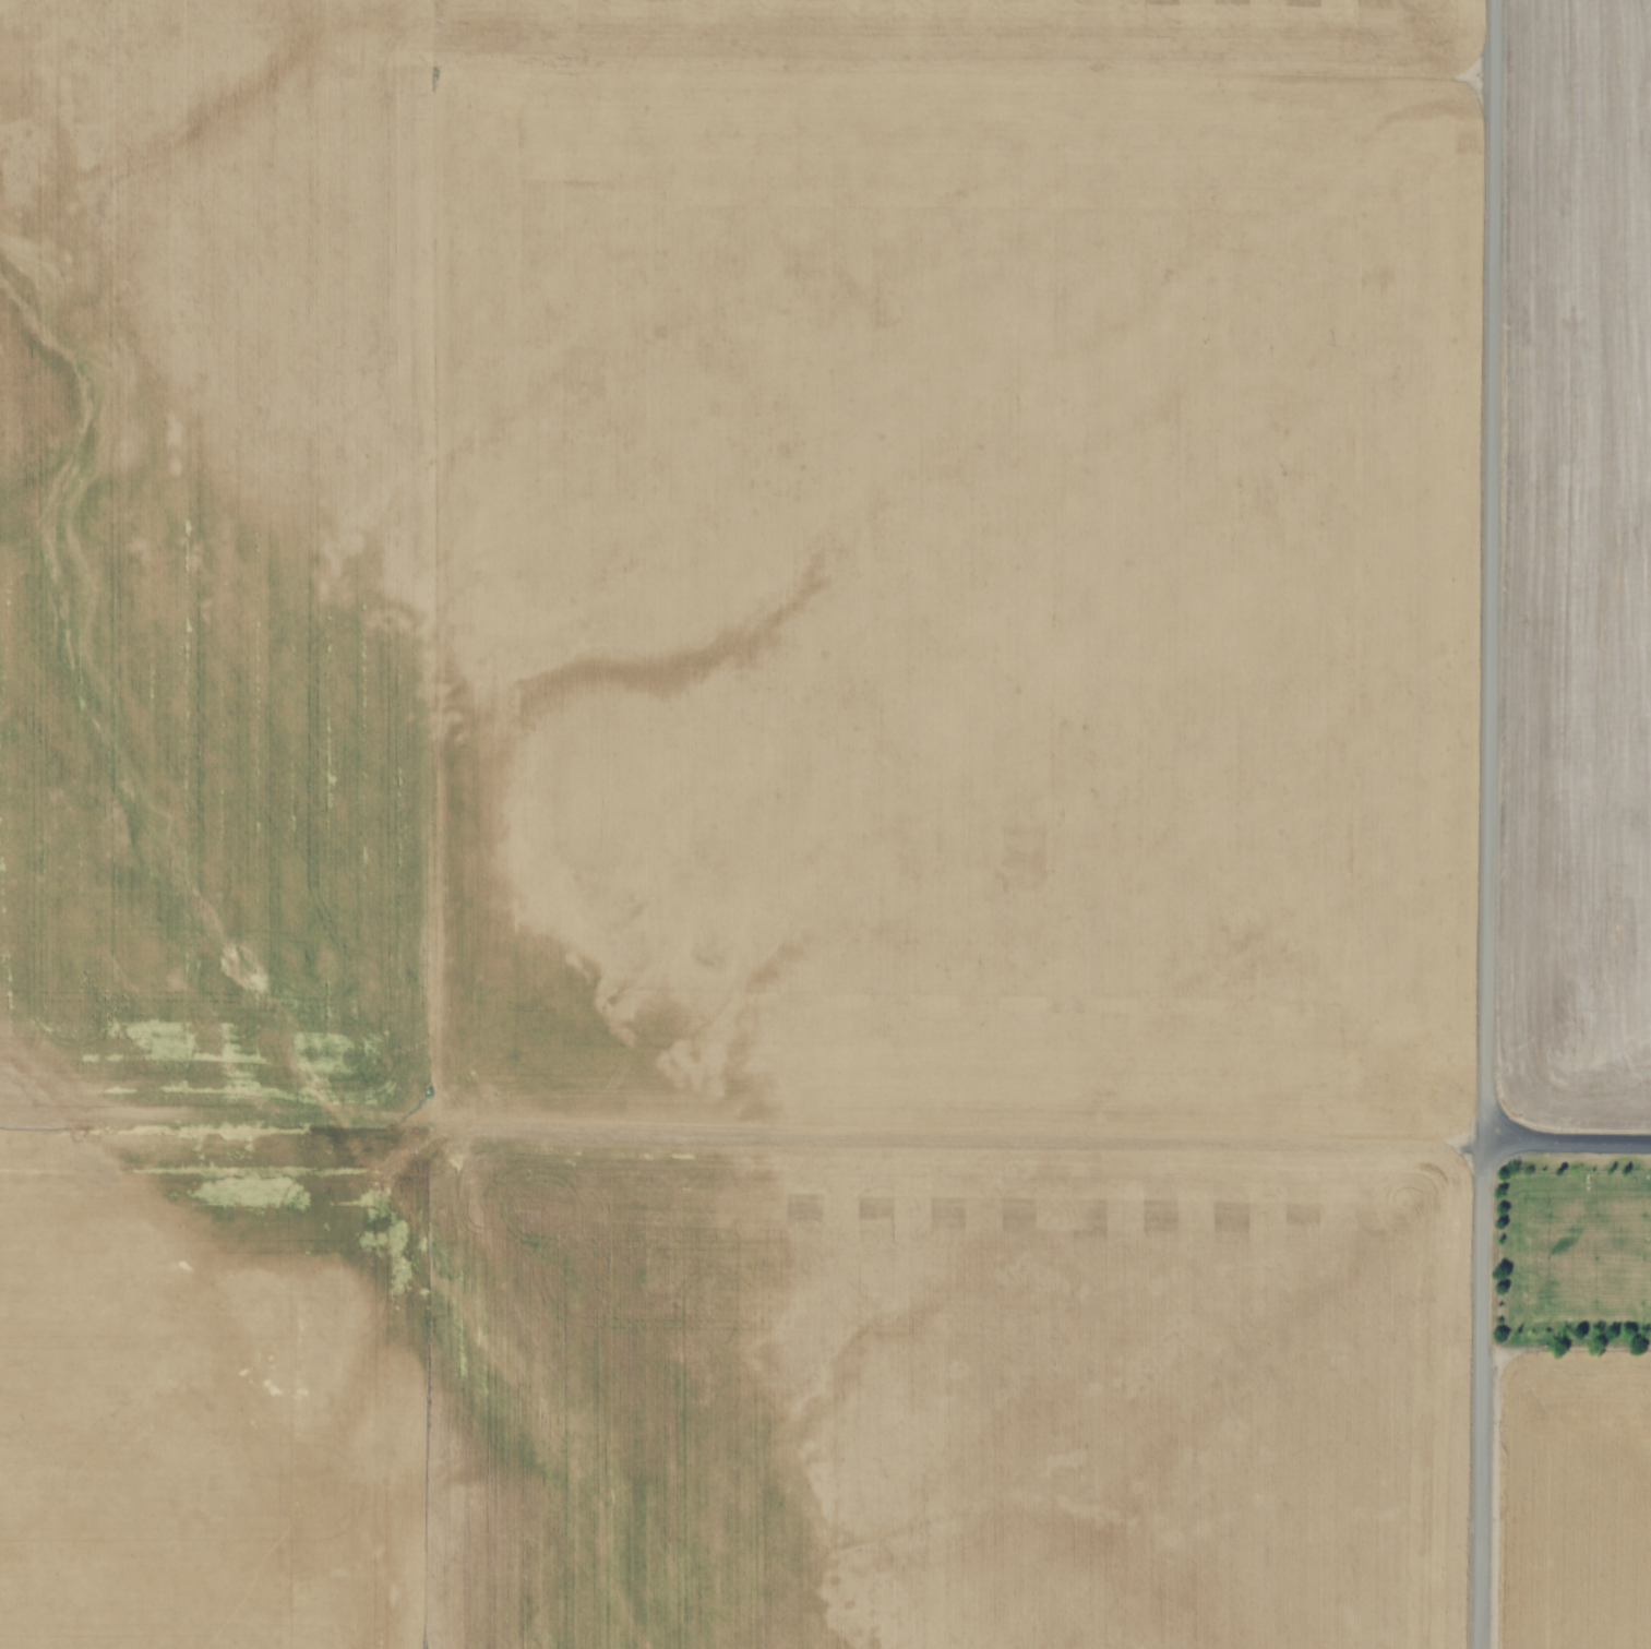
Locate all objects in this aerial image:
road: (1488, 824)
road: (1568, 1139)

